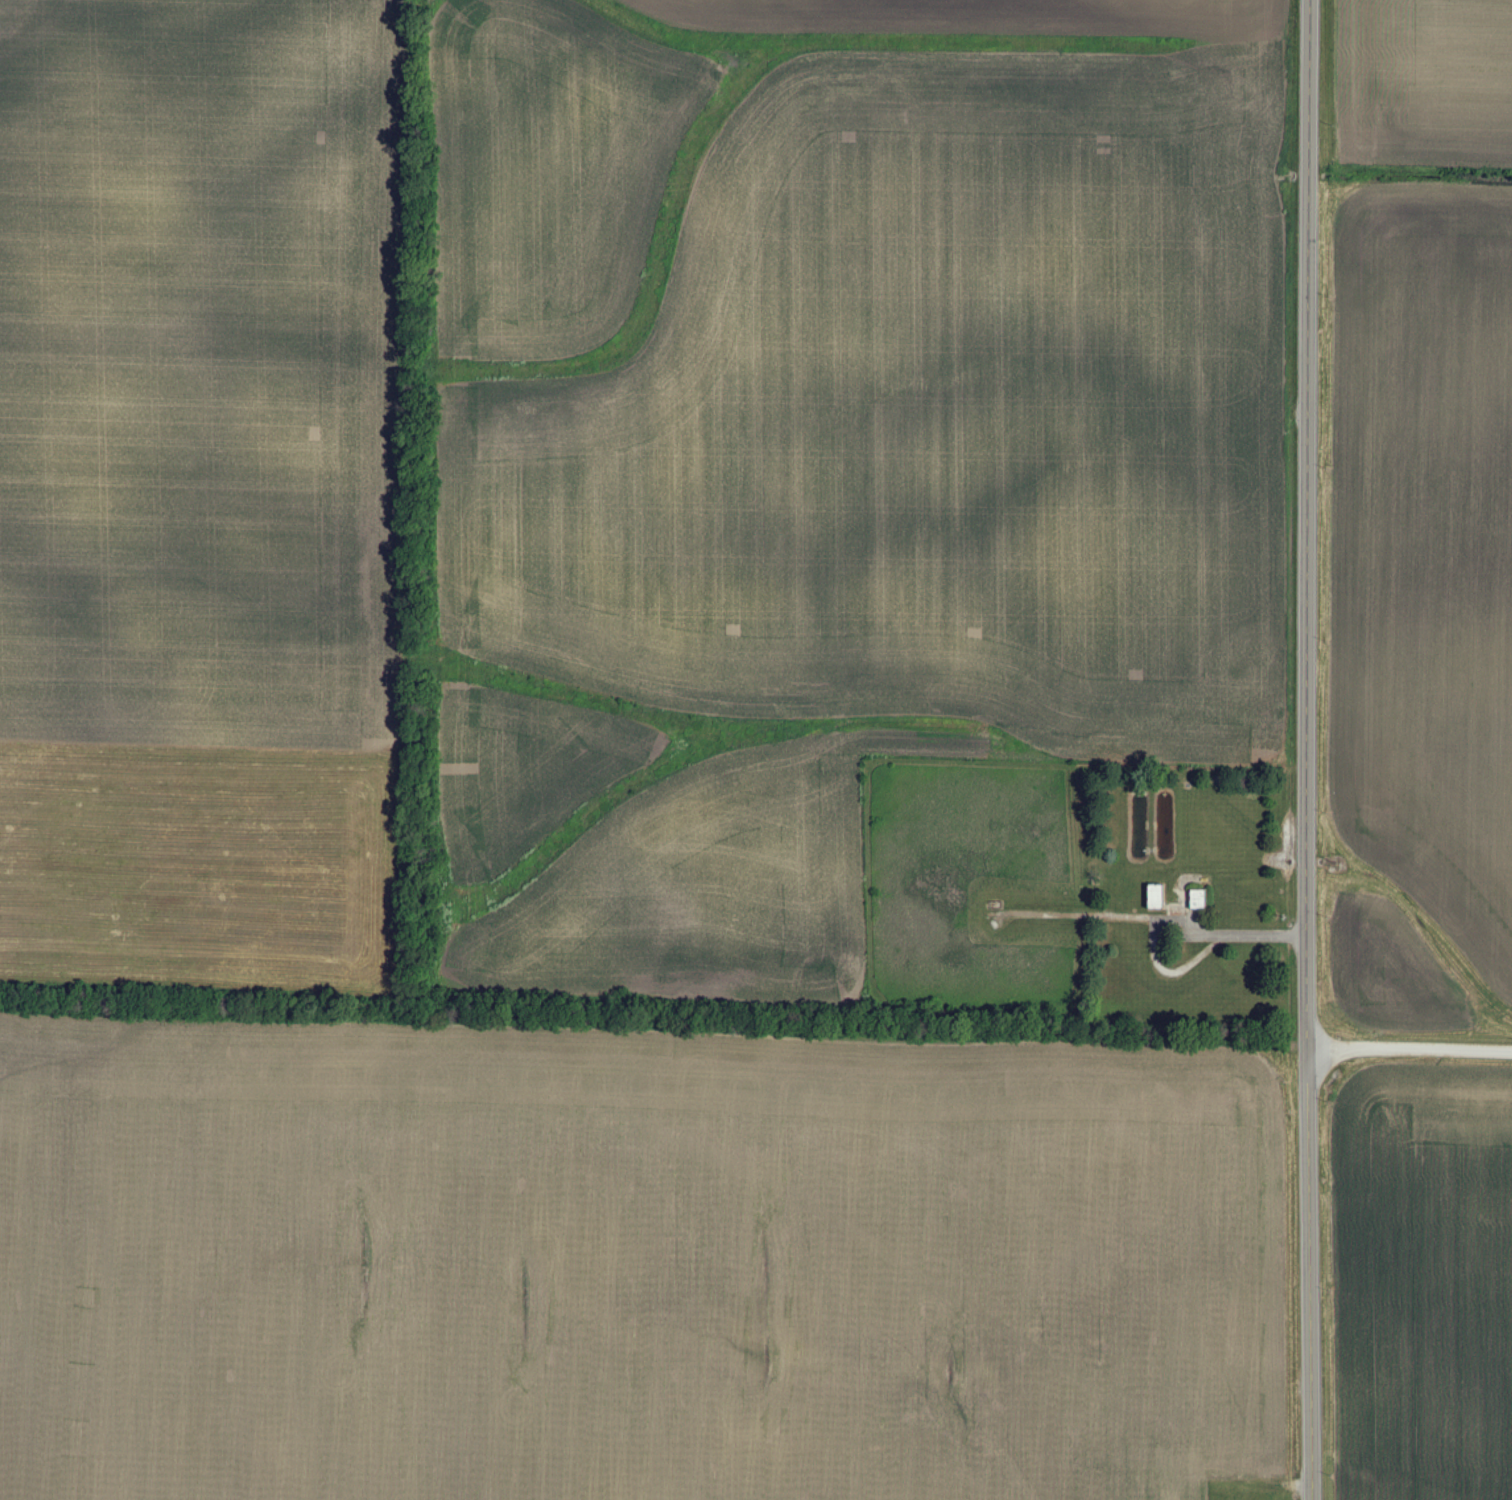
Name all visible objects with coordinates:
road: (1309, 522)
road: (1245, 937)
road: (1409, 1051)
road: (1309, 1272)

